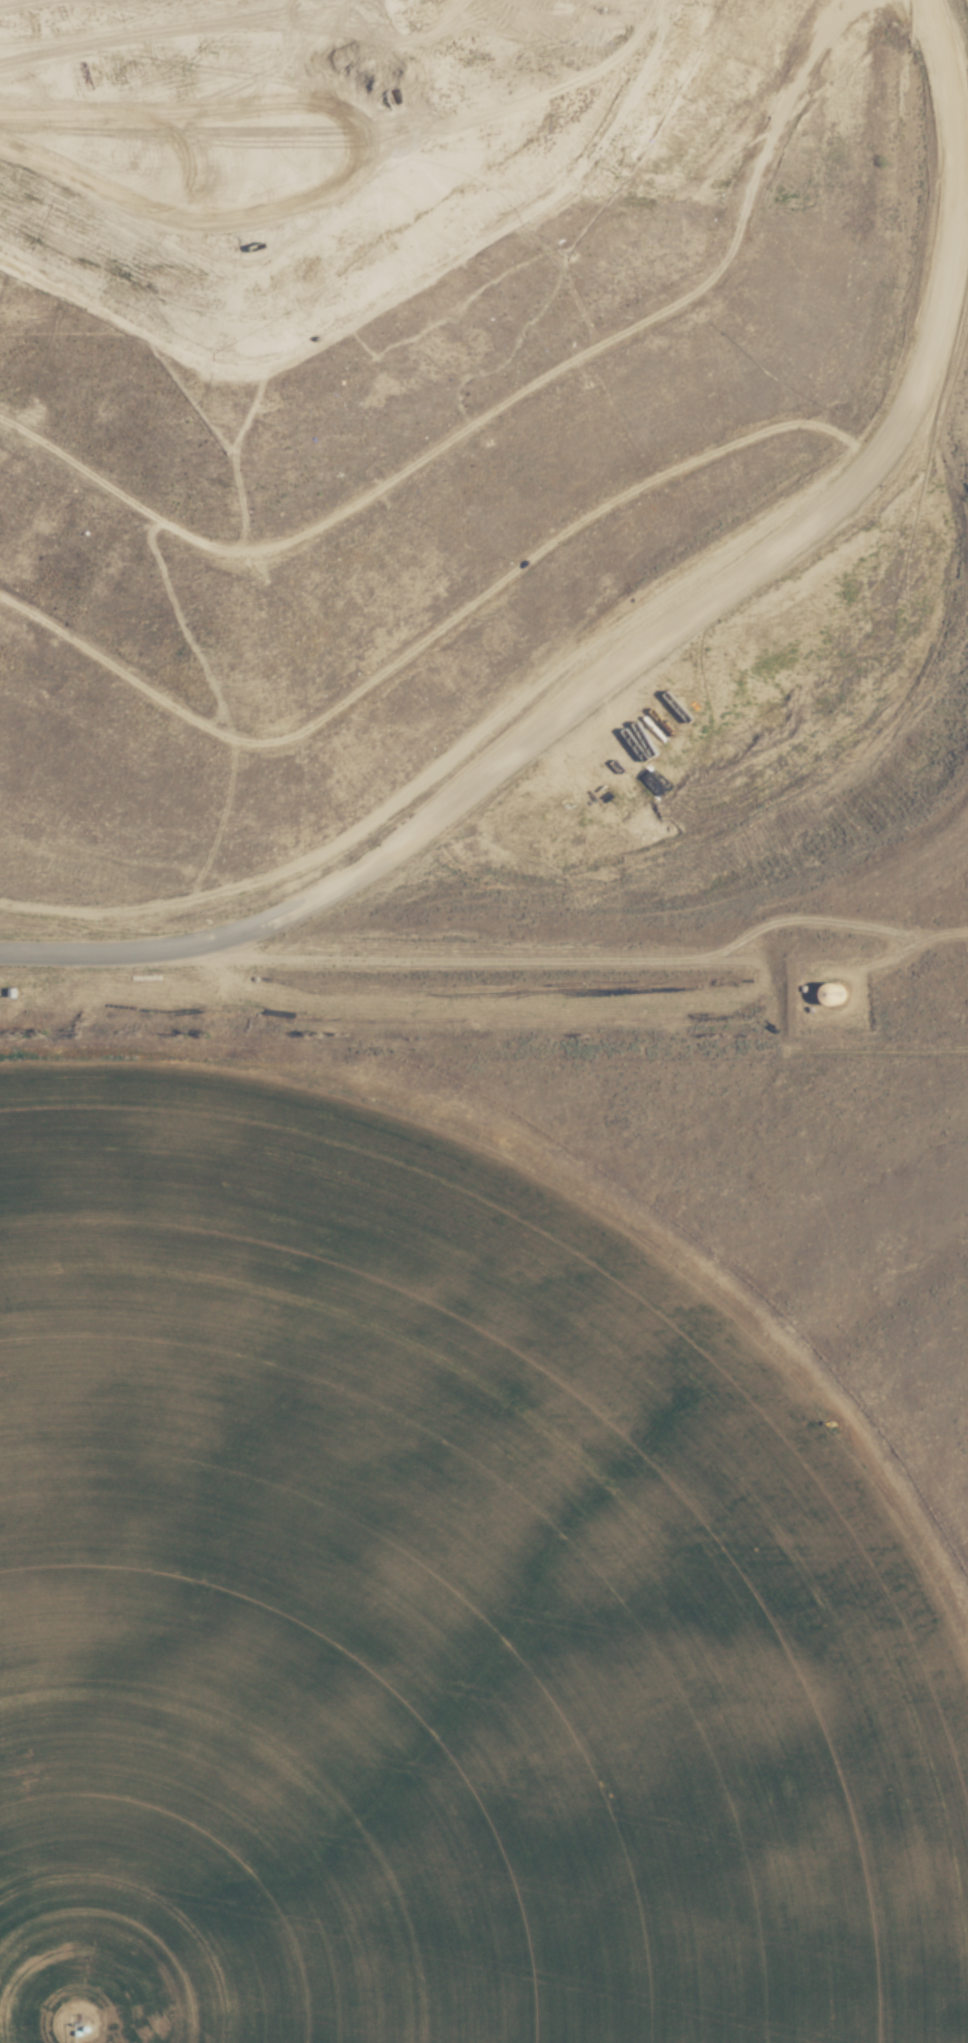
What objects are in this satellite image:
building: (829, 995)
crop: (429, 1618)

